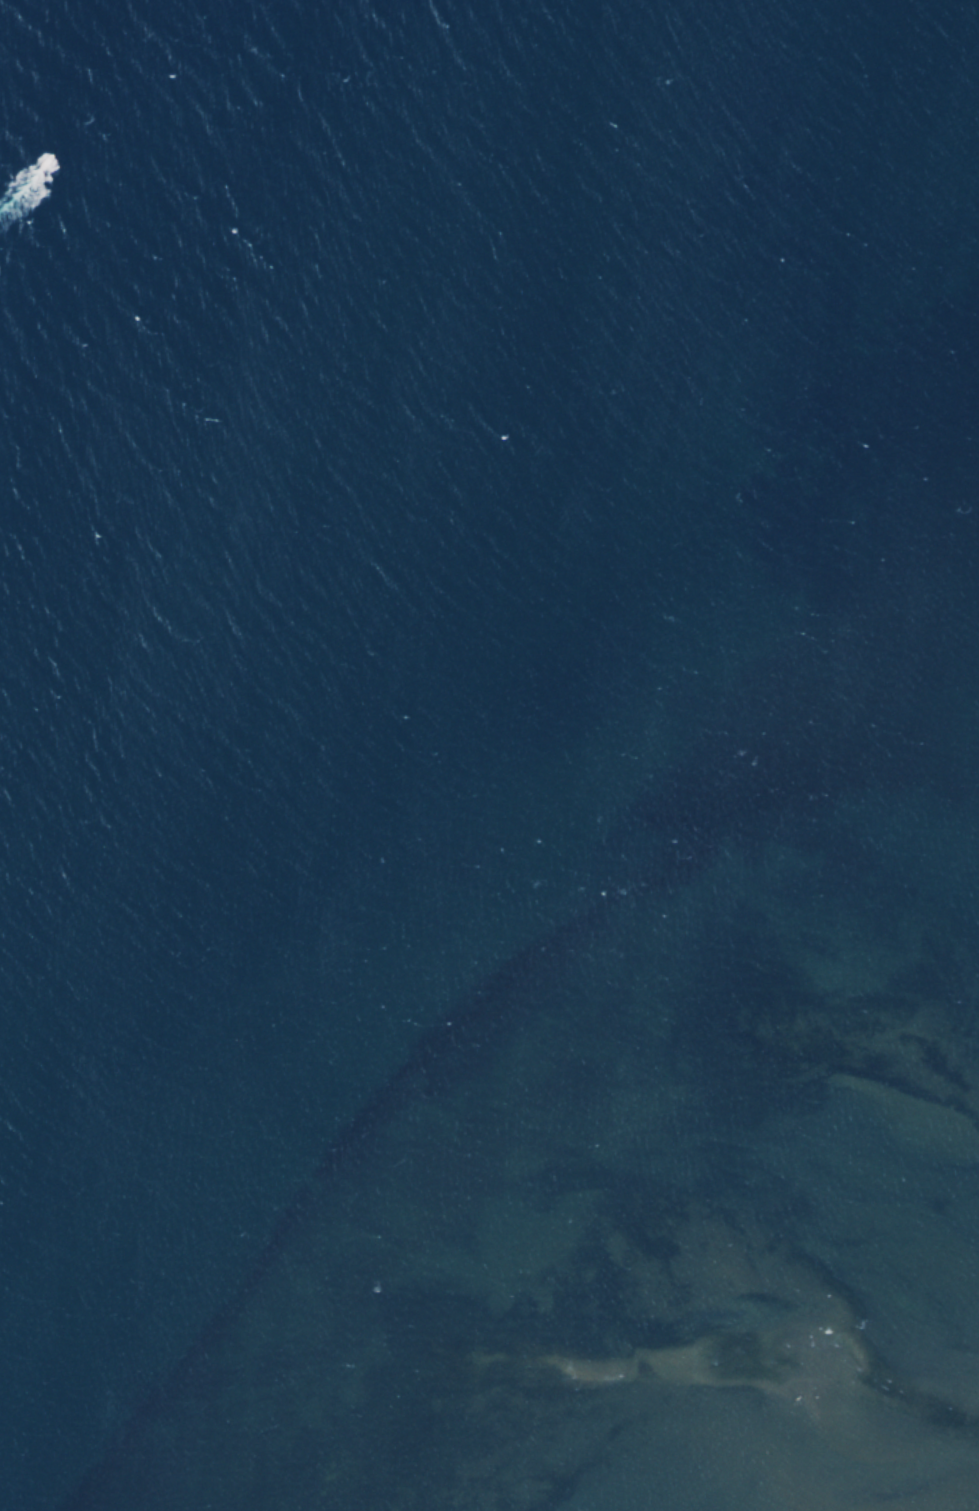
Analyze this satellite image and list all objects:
river: (19, 21)

